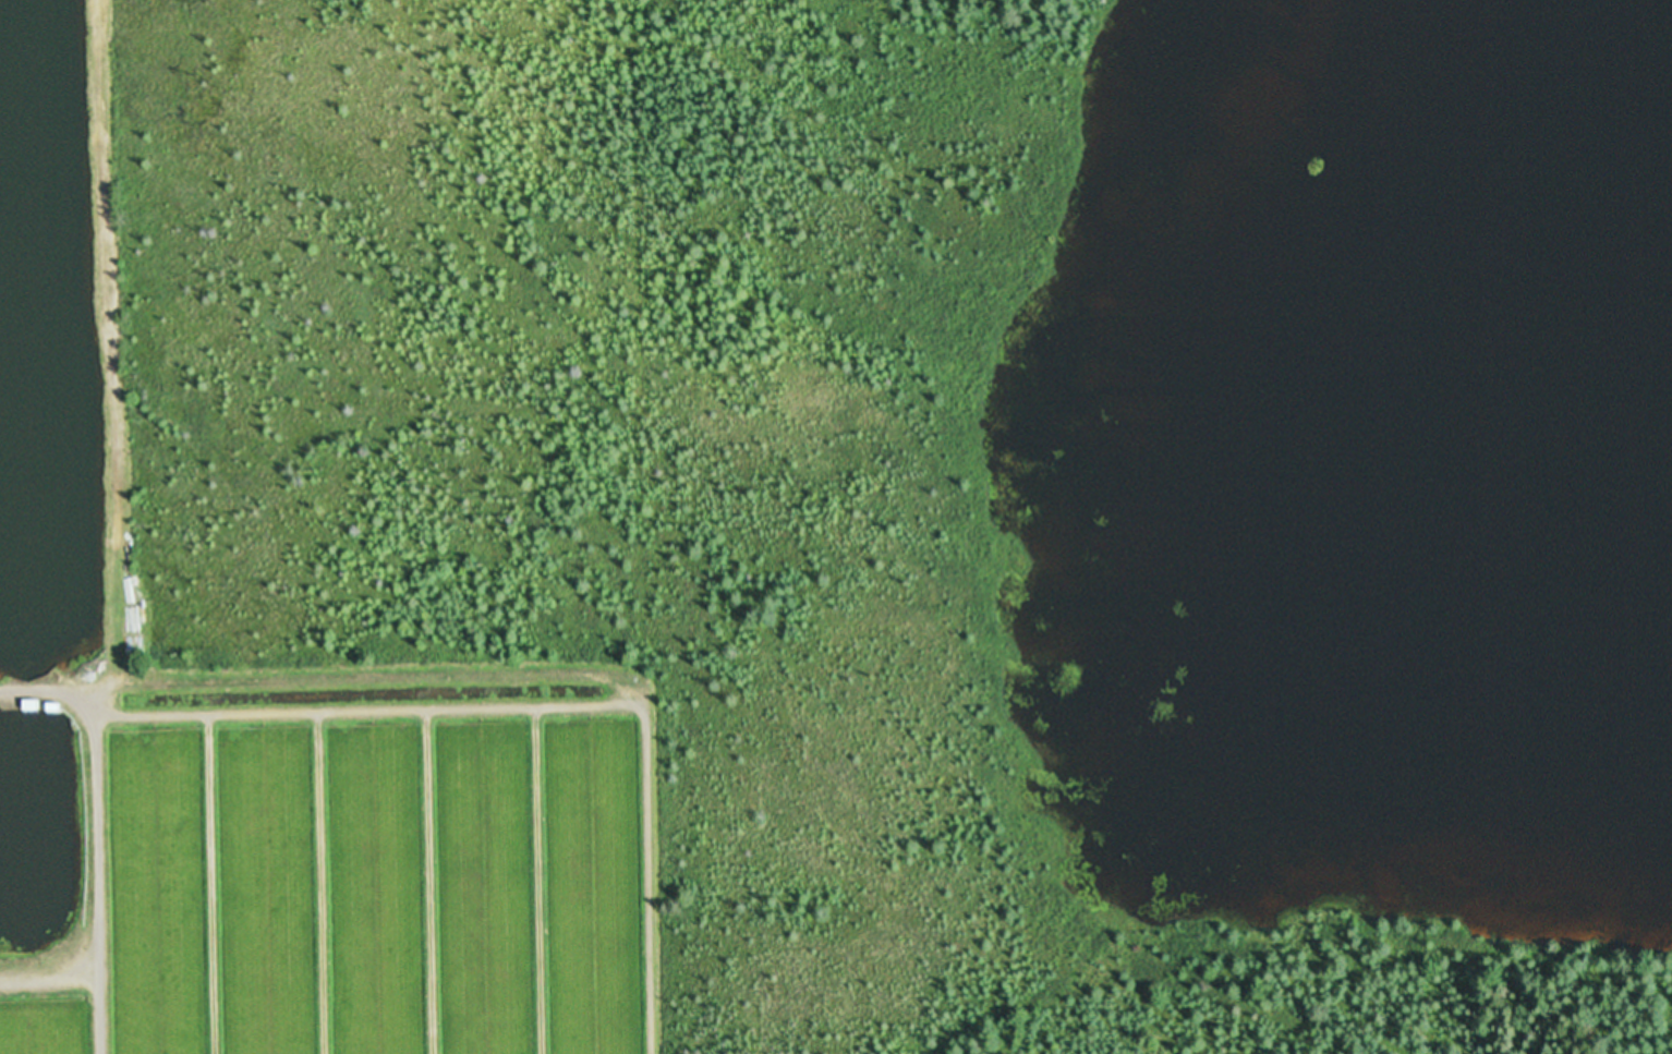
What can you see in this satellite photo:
crop: (360, 867)

